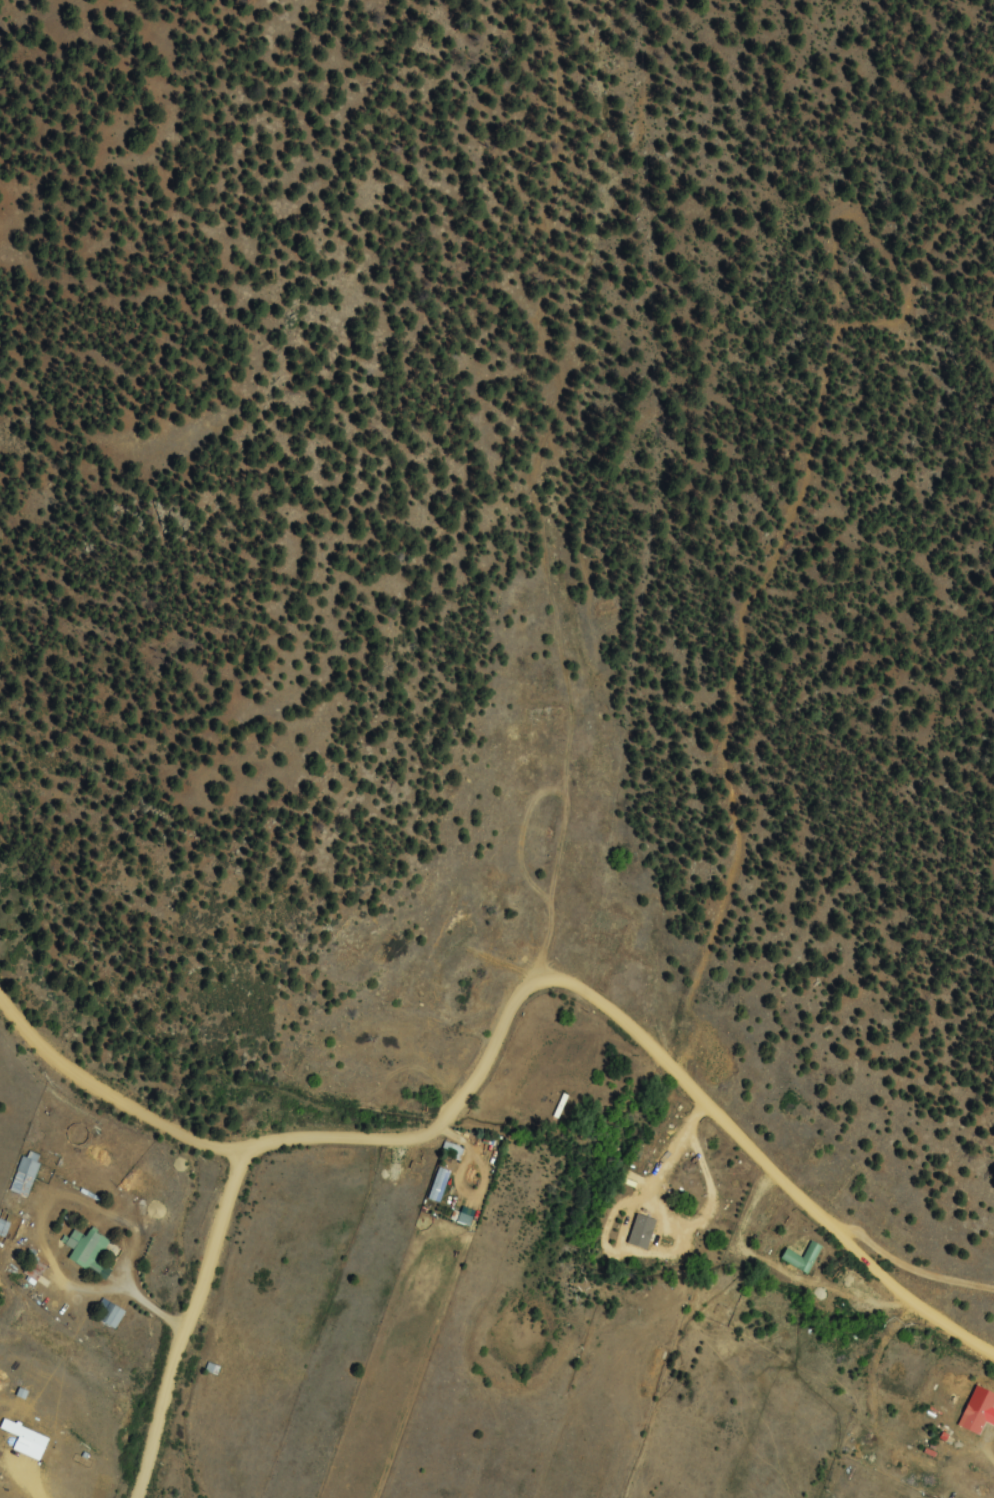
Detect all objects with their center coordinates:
road: (819, 965)
road: (626, 1003)
road: (627, 1030)
road: (107, 1095)
building: (454, 1149)
building: (27, 1174)
building: (441, 1185)
building: (89, 1249)
building: (804, 1258)
building: (35, 1270)
road: (830, 1285)
building: (113, 1316)
road: (190, 1329)
building: (979, 1413)

